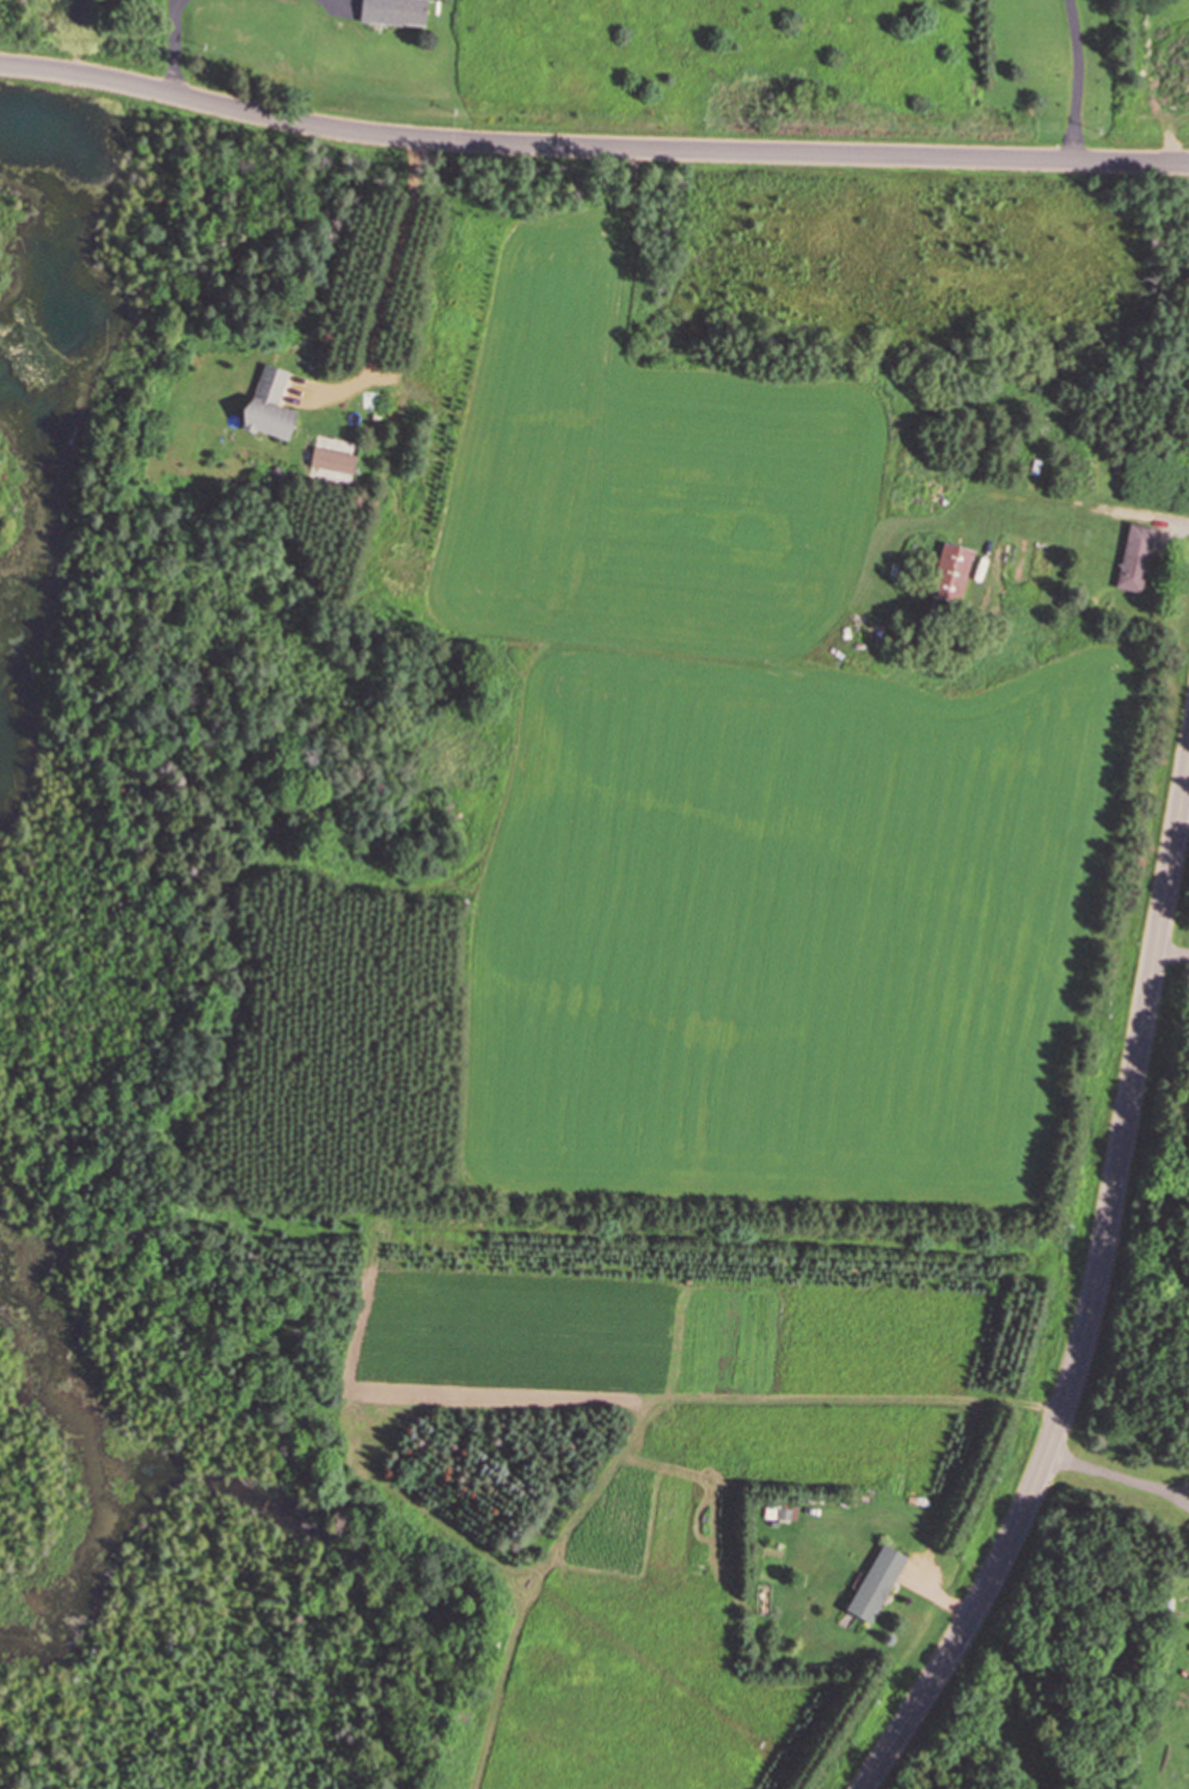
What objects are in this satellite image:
building: (393, 12)
quarry: (11, 26)
road: (590, 146)
building: (266, 405)
building: (933, 491)
building: (1134, 557)
building: (950, 571)
road: (1095, 1298)
building: (777, 1514)
building: (876, 1583)

